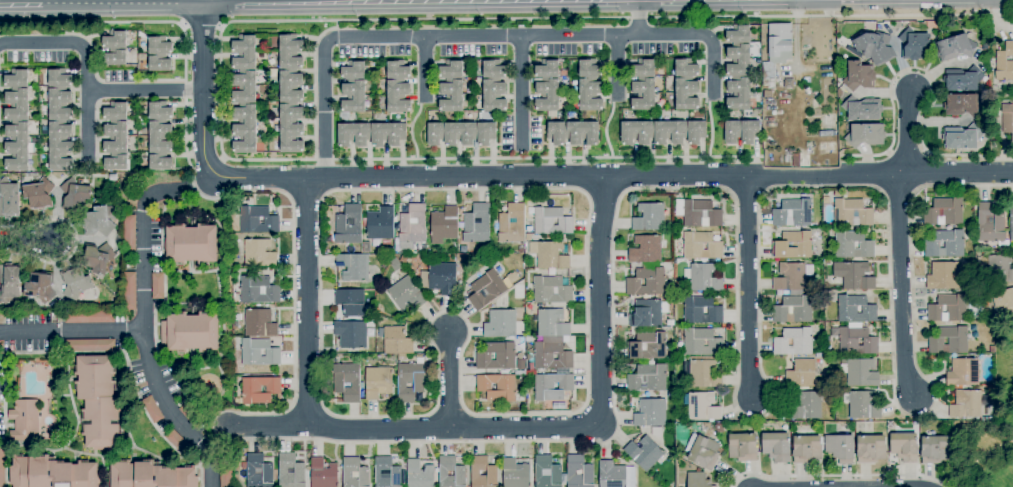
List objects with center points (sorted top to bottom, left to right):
road: (588, 1)
road: (96, 4)
road: (207, 4)
road: (372, 5)
road: (46, 8)
road: (133, 8)
road: (190, 8)
road: (638, 17)
road: (616, 18)
road: (997, 21)
road: (201, 26)
building: (738, 34)
road: (449, 35)
road: (796, 35)
building: (115, 40)
road: (42, 43)
building: (914, 44)
building: (159, 46)
building: (984, 46)
building: (955, 47)
building: (875, 48)
building: (290, 52)
building: (777, 52)
building: (244, 53)
building: (115, 57)
building: (738, 60)
building: (159, 63)
building: (1004, 63)
road: (423, 66)
road: (713, 66)
road: (617, 67)
building: (643, 68)
building: (686, 68)
building: (451, 69)
building: (494, 69)
building: (547, 69)
building: (590, 69)
building: (353, 70)
building: (398, 70)
building: (41, 71)
building: (564, 74)
building: (859, 76)
building: (59, 77)
building: (16, 78)
building: (962, 79)
road: (892, 82)
building: (788, 83)
building: (290, 86)
building: (244, 87)
road: (144, 90)
road: (521, 91)
building: (686, 93)
building: (739, 93)
building: (547, 94)
building: (590, 94)
building: (643, 94)
building: (493, 95)
building: (767, 95)
building: (353, 96)
building: (398, 96)
building: (451, 96)
building: (59, 103)
road: (87, 104)
building: (17, 105)
building: (963, 105)
building: (862, 109)
building: (115, 111)
building: (159, 111)
building: (1007, 119)
building: (245, 129)
building: (290, 129)
building: (733, 131)
building: (582, 132)
building: (637, 132)
building: (670, 132)
building: (696, 132)
building: (750, 132)
road: (907, 132)
building: (435, 133)
building: (460, 133)
building: (557, 133)
building: (354, 134)
building: (387, 134)
building: (485, 134)
building: (866, 135)
building: (160, 136)
building: (962, 137)
building: (116, 138)
road: (203, 138)
building: (18, 146)
building: (60, 146)
road: (966, 155)
road: (426, 159)
building: (796, 160)
building: (160, 161)
building: (116, 162)
road: (659, 175)
building: (112, 178)
building: (80, 181)
road: (486, 189)
building: (39, 194)
building: (76, 194)
building: (837, 194)
road: (202, 195)
road: (305, 195)
building: (9, 198)
building: (825, 200)
building: (679, 207)
building: (944, 212)
building: (793, 213)
building: (852, 213)
building: (701, 214)
building: (649, 218)
building: (98, 220)
building: (258, 220)
building: (1011, 221)
building: (551, 222)
building: (990, 223)
building: (380, 224)
building: (444, 224)
building: (477, 224)
building: (512, 224)
building: (348, 226)
building: (412, 227)
building: (129, 235)
building: (528, 237)
road: (75, 241)
road: (27, 244)
building: (191, 244)
building: (945, 244)
building: (793, 245)
building: (853, 245)
building: (700, 246)
building: (366, 247)
building: (520, 249)
building: (645, 250)
building: (259, 253)
building: (549, 255)
building: (98, 258)
building: (403, 259)
building: (969, 265)
building: (353, 267)
building: (1000, 269)
building: (552, 273)
building: (853, 276)
building: (943, 276)
building: (790, 277)
building: (439, 278)
building: (703, 278)
building: (650, 281)
building: (10, 283)
building: (75, 283)
building: (157, 286)
road: (900, 286)
building: (40, 287)
road: (748, 287)
building: (258, 290)
building: (486, 290)
building: (551, 290)
building: (129, 291)
road: (142, 293)
building: (406, 294)
building: (235, 297)
road: (599, 301)
road: (307, 302)
building: (350, 302)
building: (1003, 303)
building: (989, 304)
building: (793, 308)
building: (948, 308)
building: (701, 309)
building: (855, 309)
building: (993, 313)
building: (646, 314)
building: (89, 317)
building: (259, 323)
building: (551, 323)
building: (670, 323)
building: (500, 324)
building: (190, 332)
building: (351, 334)
building: (949, 340)
building: (397, 341)
building: (855, 341)
building: (793, 342)
building: (702, 343)
building: (90, 346)
building: (647, 346)
building: (992, 350)
building: (259, 353)
building: (552, 354)
building: (496, 356)
building: (401, 357)
building: (703, 373)
building: (860, 373)
building: (963, 373)
building: (801, 374)
building: (647, 379)
road: (449, 380)
building: (346, 382)
building: (378, 382)
building: (409, 382)
building: (677, 384)
building: (497, 387)
building: (552, 387)
building: (990, 388)
building: (260, 390)
building: (98, 401)
building: (863, 405)
building: (966, 405)
building: (702, 406)
building: (806, 406)
building: (152, 409)
road: (172, 412)
building: (650, 414)
building: (190, 416)
road: (743, 416)
building: (24, 421)
building: (889, 424)
building: (719, 428)
road: (412, 429)
building: (656, 432)
building: (177, 442)
building: (777, 446)
building: (904, 447)
building: (742, 448)
building: (806, 448)
building: (840, 449)
building: (870, 449)
building: (935, 450)
building: (702, 452)
building: (643, 453)
park: (984, 453)
building: (2, 467)
building: (452, 469)
building: (485, 469)
building: (259, 471)
building: (299, 471)
building: (548, 472)
building: (588, 472)
building: (52, 473)
building: (354, 473)
building: (386, 473)
building: (514, 473)
building: (324, 474)
building: (420, 475)
building: (615, 475)
building: (151, 476)
road: (836, 476)
building: (225, 479)
building: (698, 480)
building: (668, 486)

